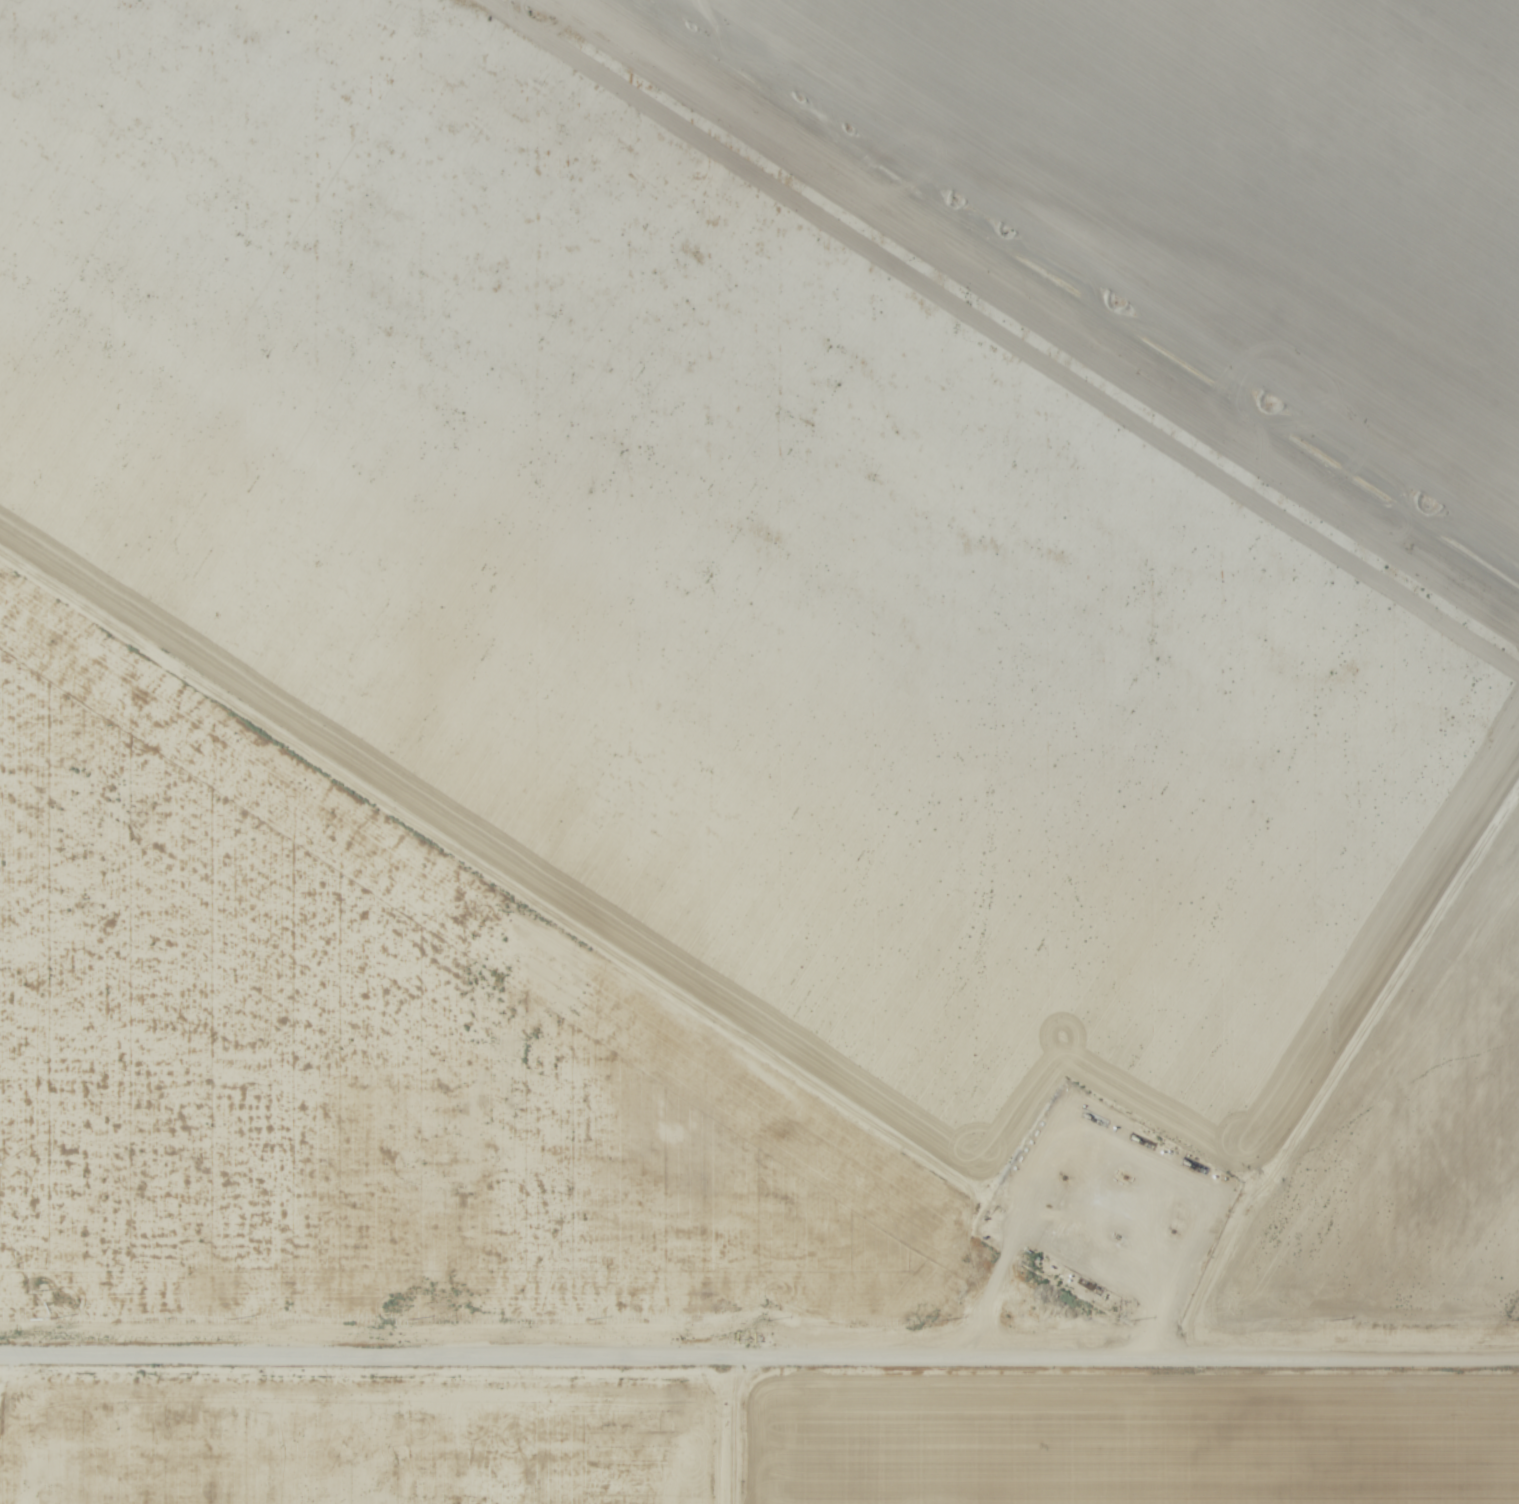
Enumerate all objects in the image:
crop: (1231, 185)

